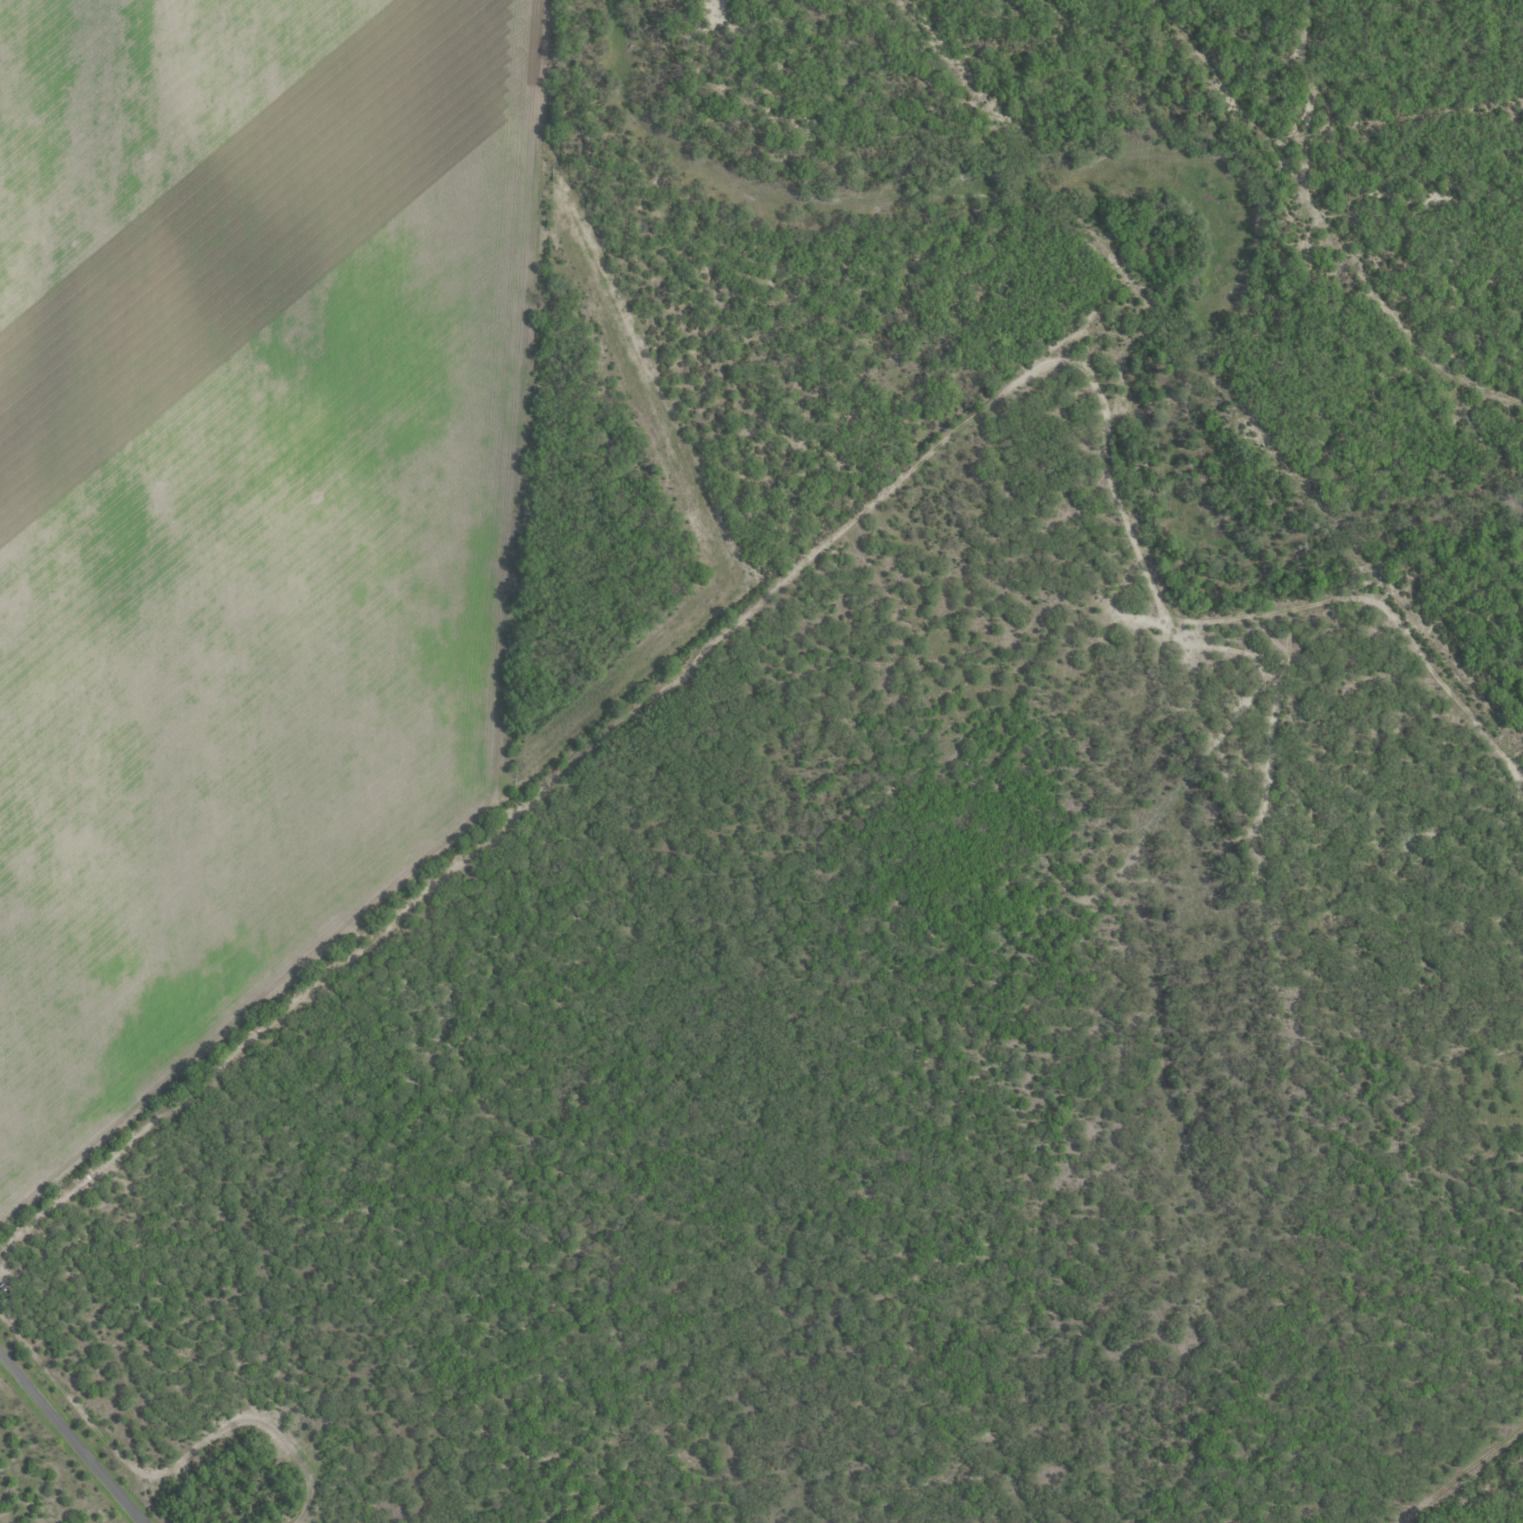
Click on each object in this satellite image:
road: (73, 1435)

